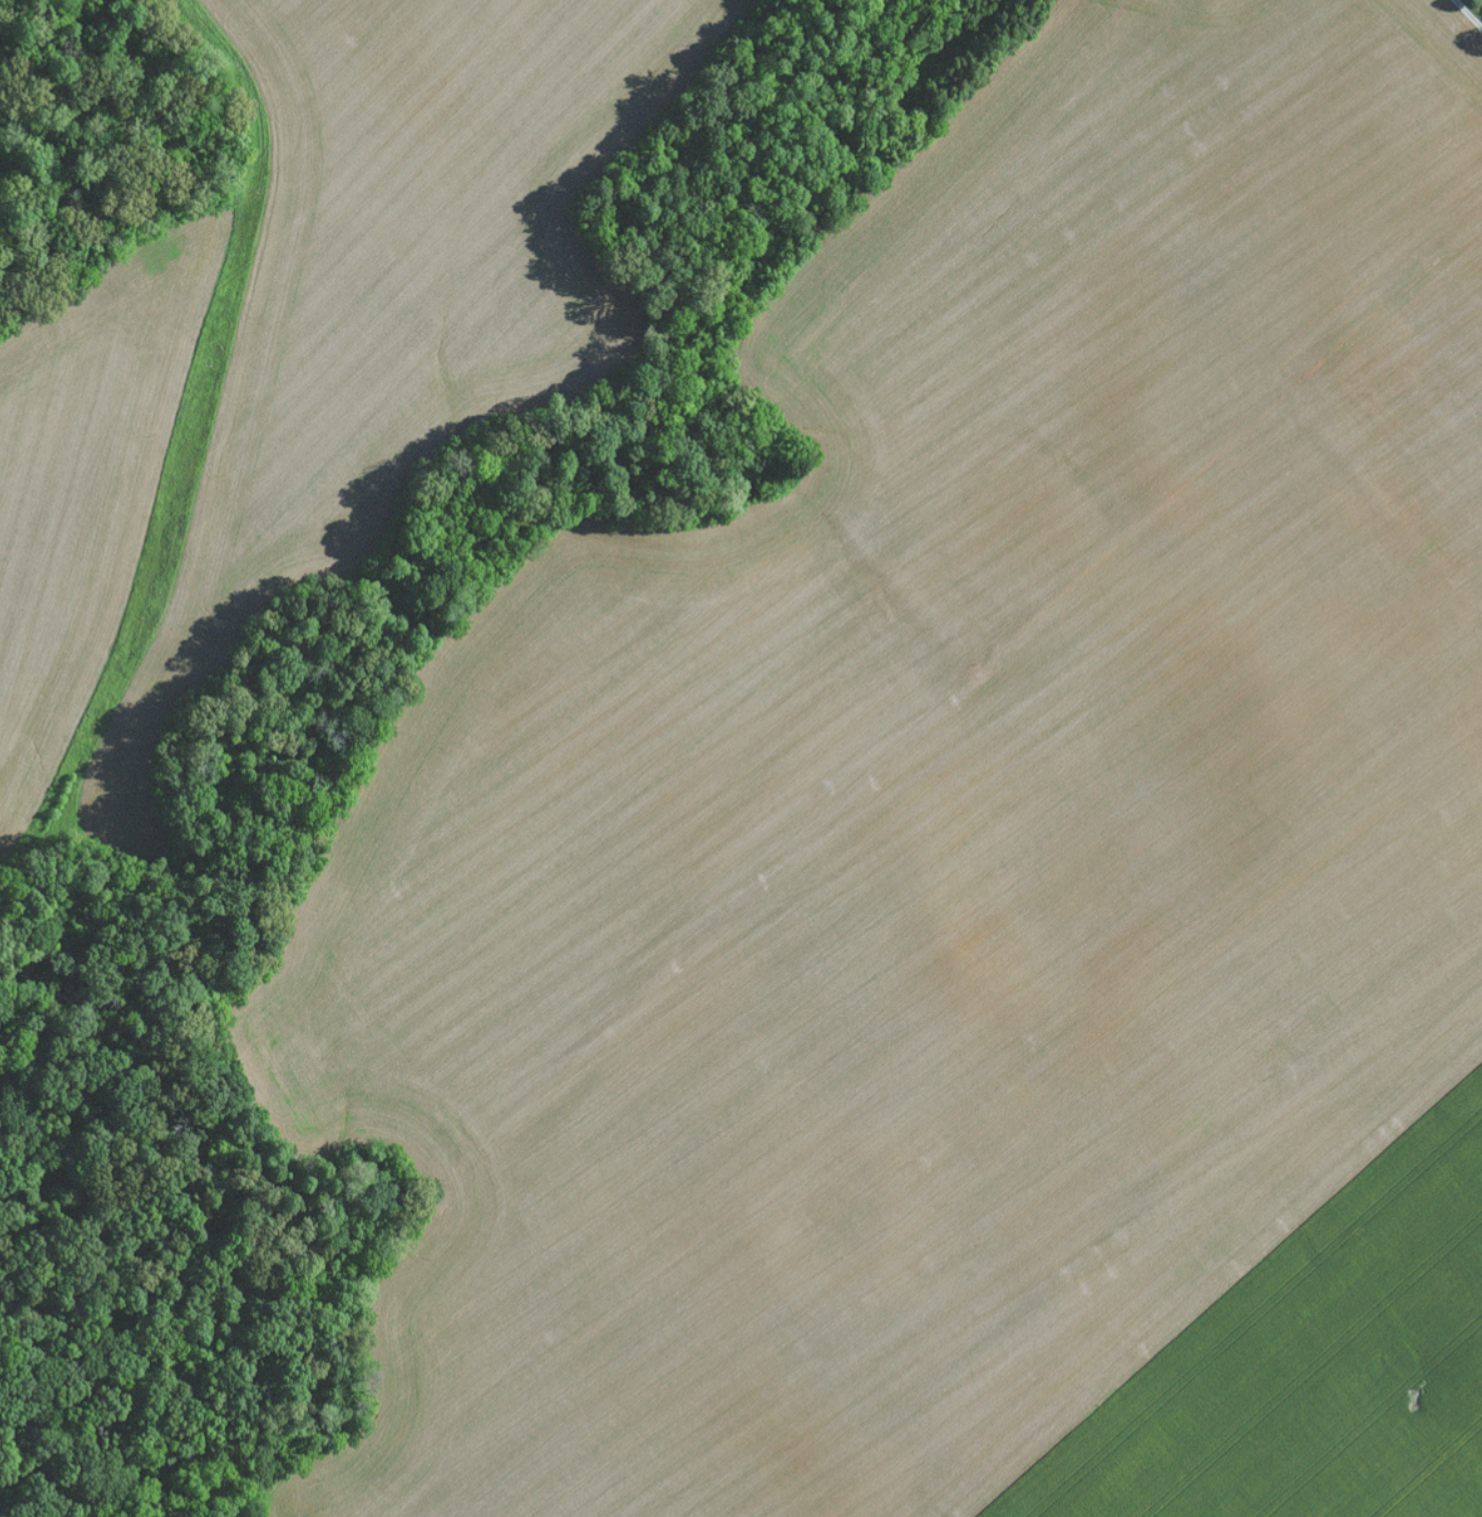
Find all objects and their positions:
road: (1468, 13)

